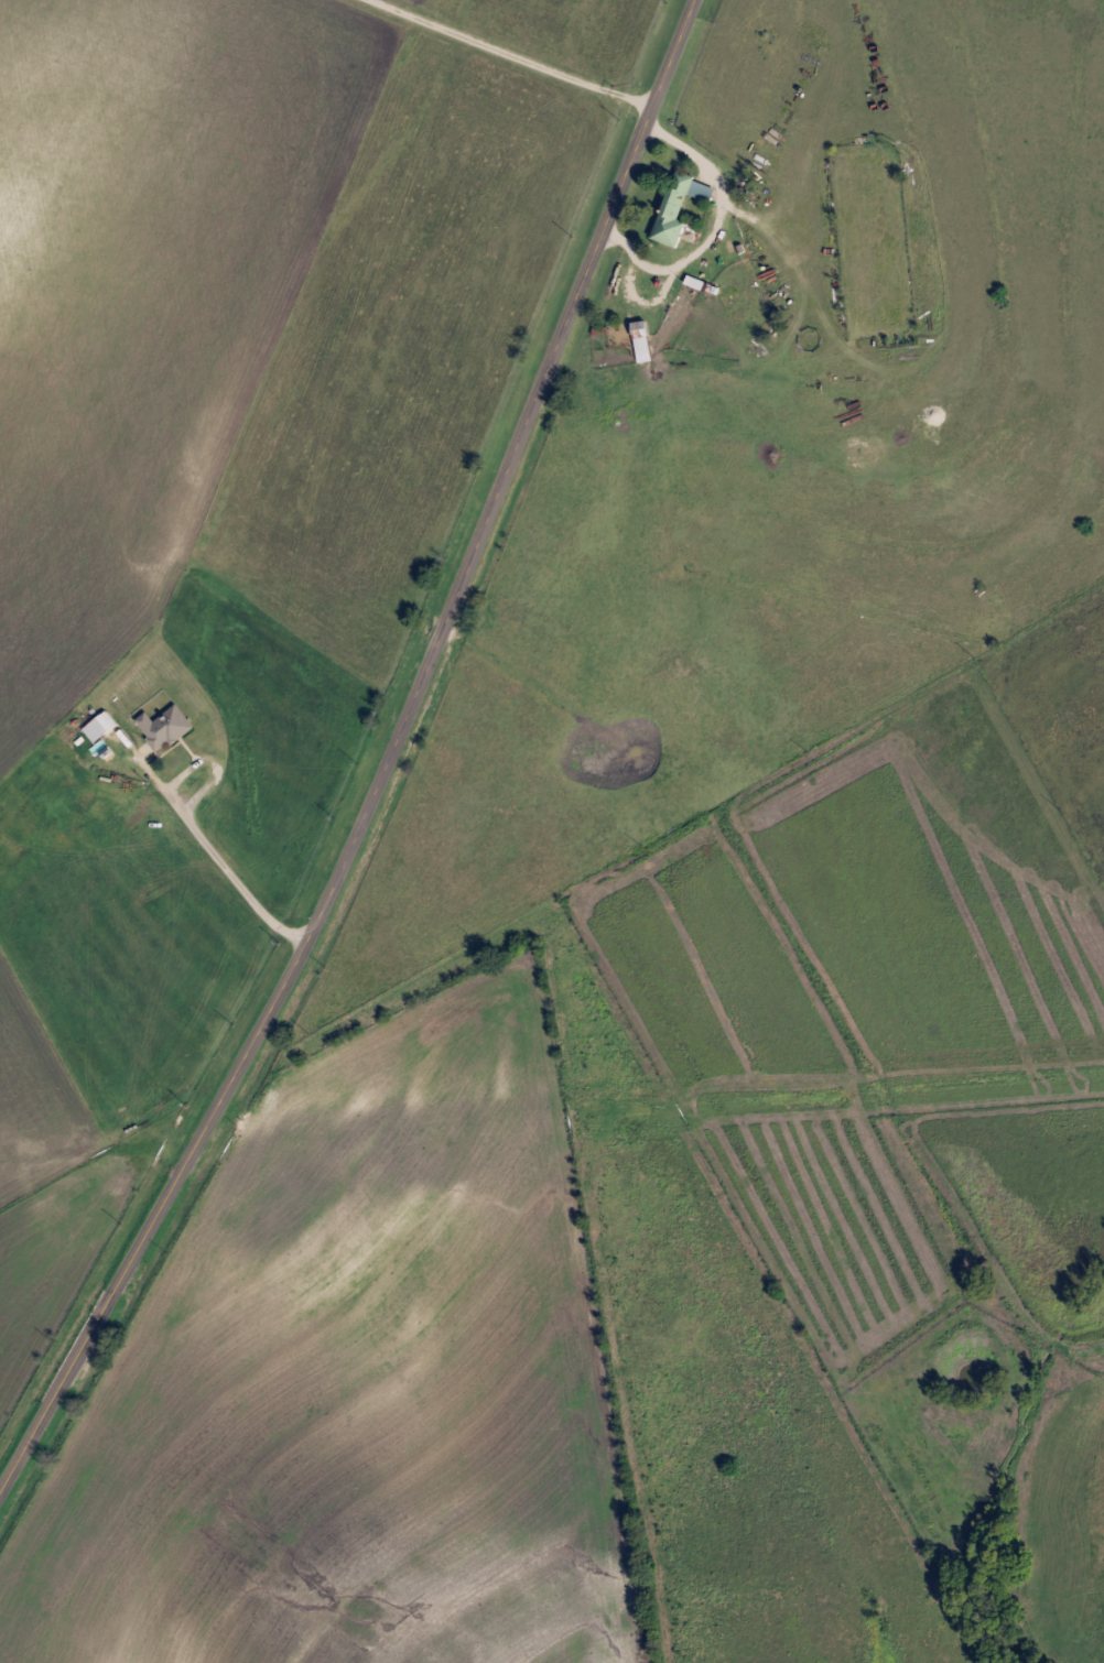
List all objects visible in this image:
road: (506, 56)
building: (671, 205)
road: (683, 253)
building: (635, 340)
building: (172, 726)
building: (107, 729)
road: (383, 759)
road: (220, 857)

